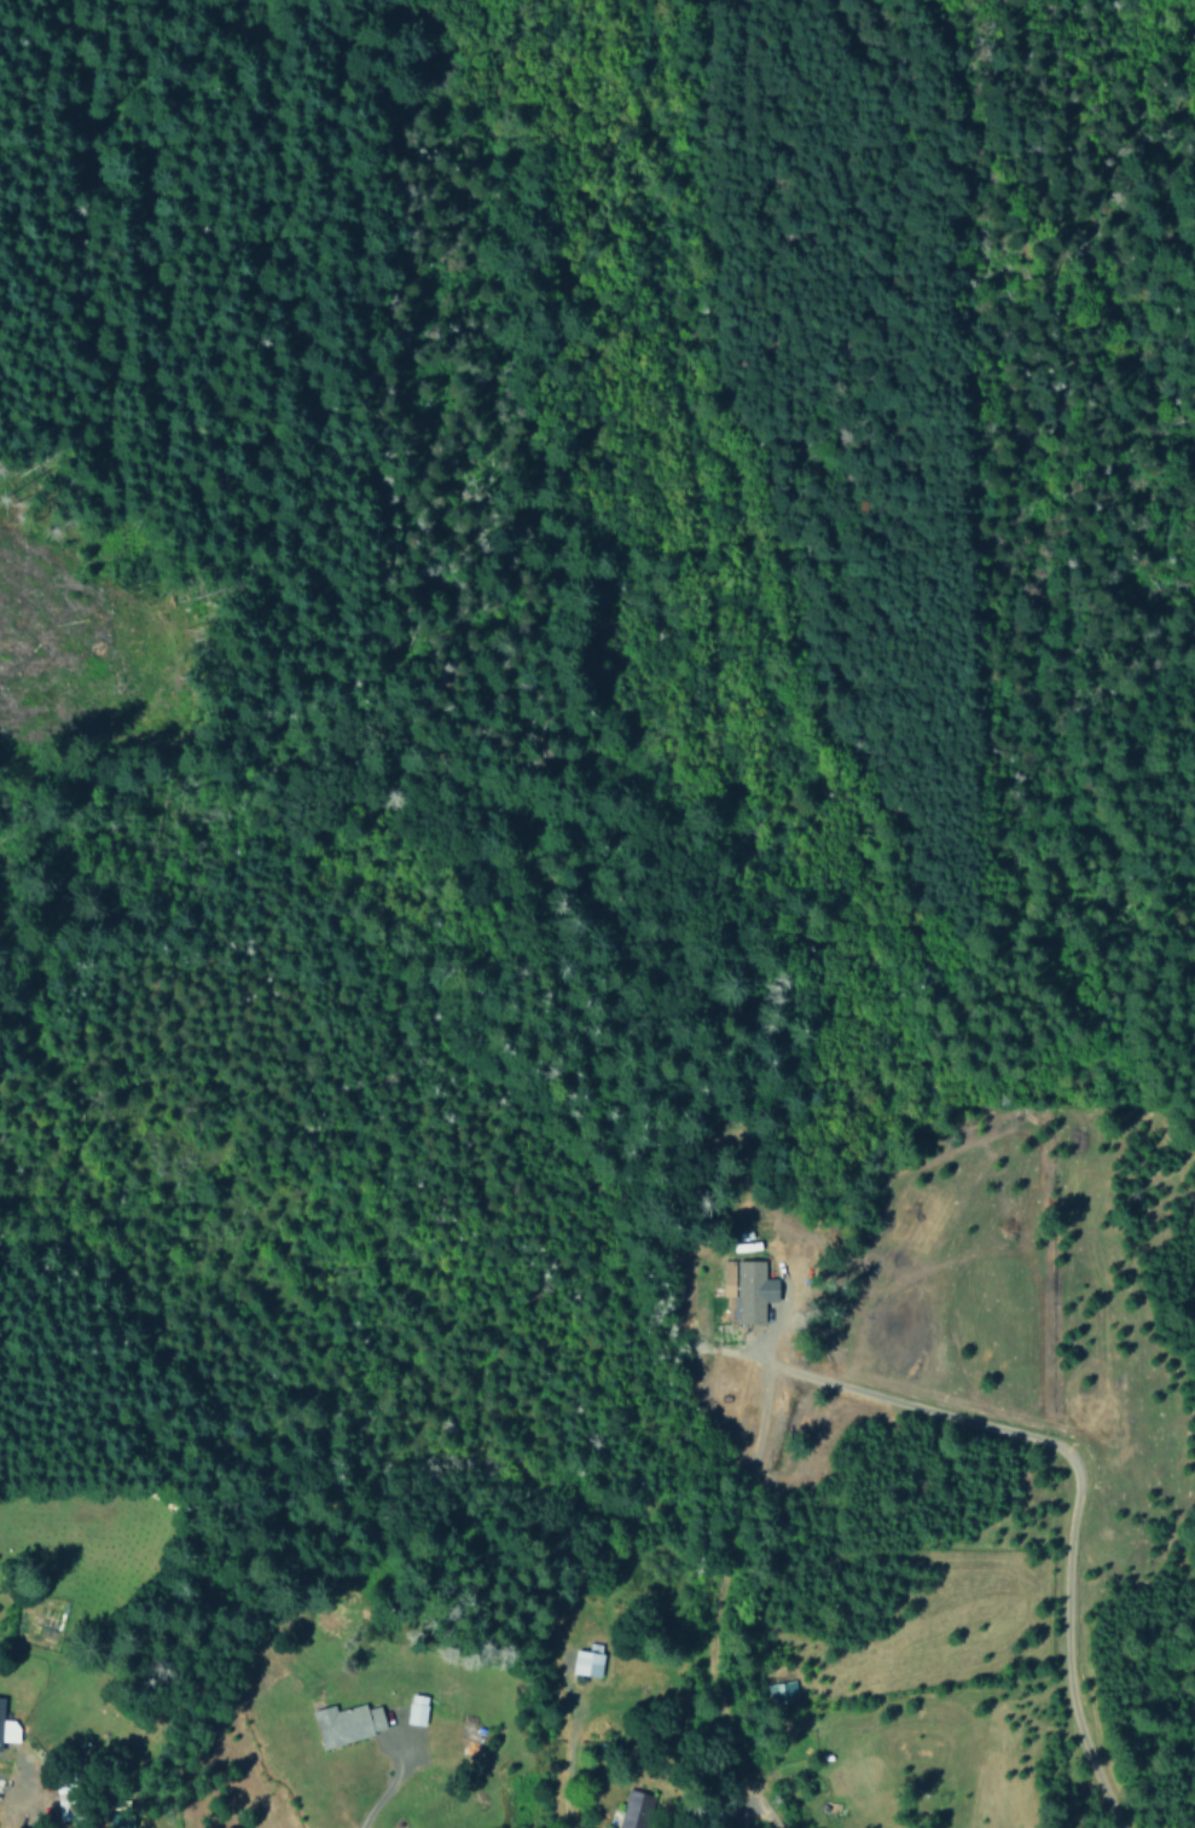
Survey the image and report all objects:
road: (98, 324)
road: (39, 536)
building: (748, 1288)
road: (1068, 1503)
building: (587, 1660)
building: (779, 1691)
building: (417, 1708)
building: (348, 1723)
building: (7, 1726)
building: (634, 1809)

